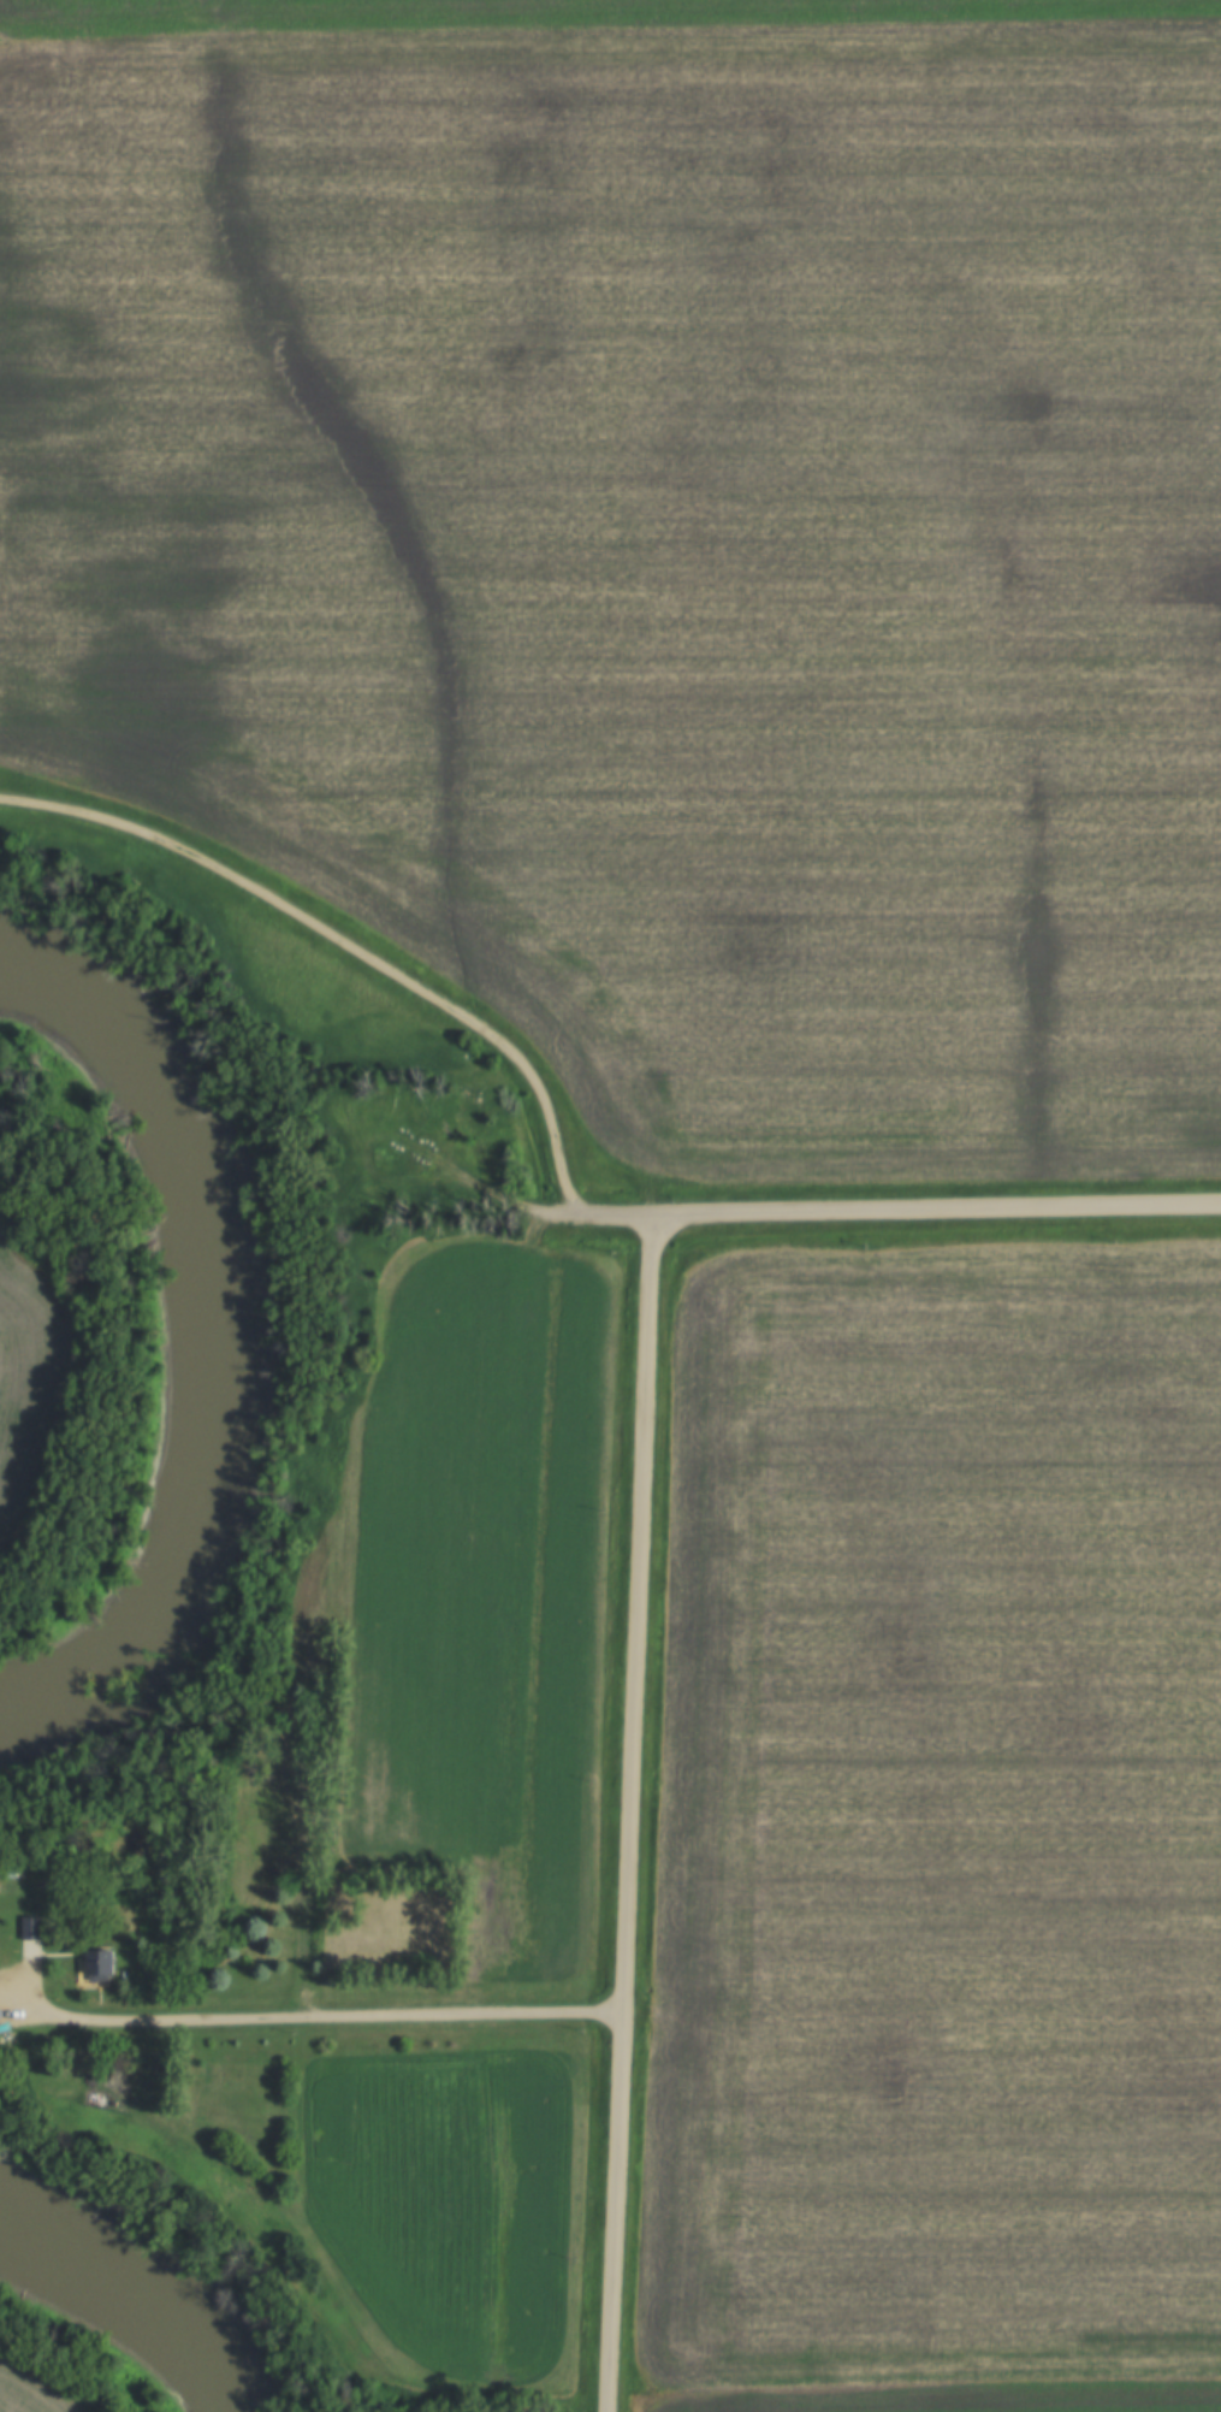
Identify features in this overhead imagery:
crop: (527, 10)
crop: (660, 543)
road: (342, 947)
road: (940, 1208)
road: (599, 1214)
road: (1, 1216)
river: (200, 1340)
crop: (486, 1598)
road: (634, 1813)
crop: (941, 1837)
building: (30, 1927)
building: (97, 1963)
road: (327, 2016)
crop: (440, 2195)
river: (114, 2302)

